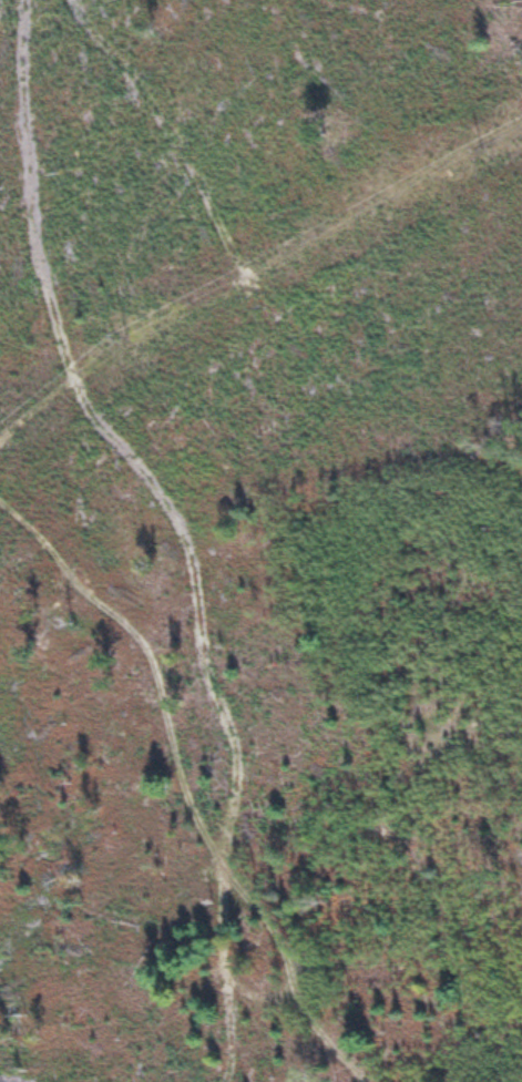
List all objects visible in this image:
road: (188, 786)

